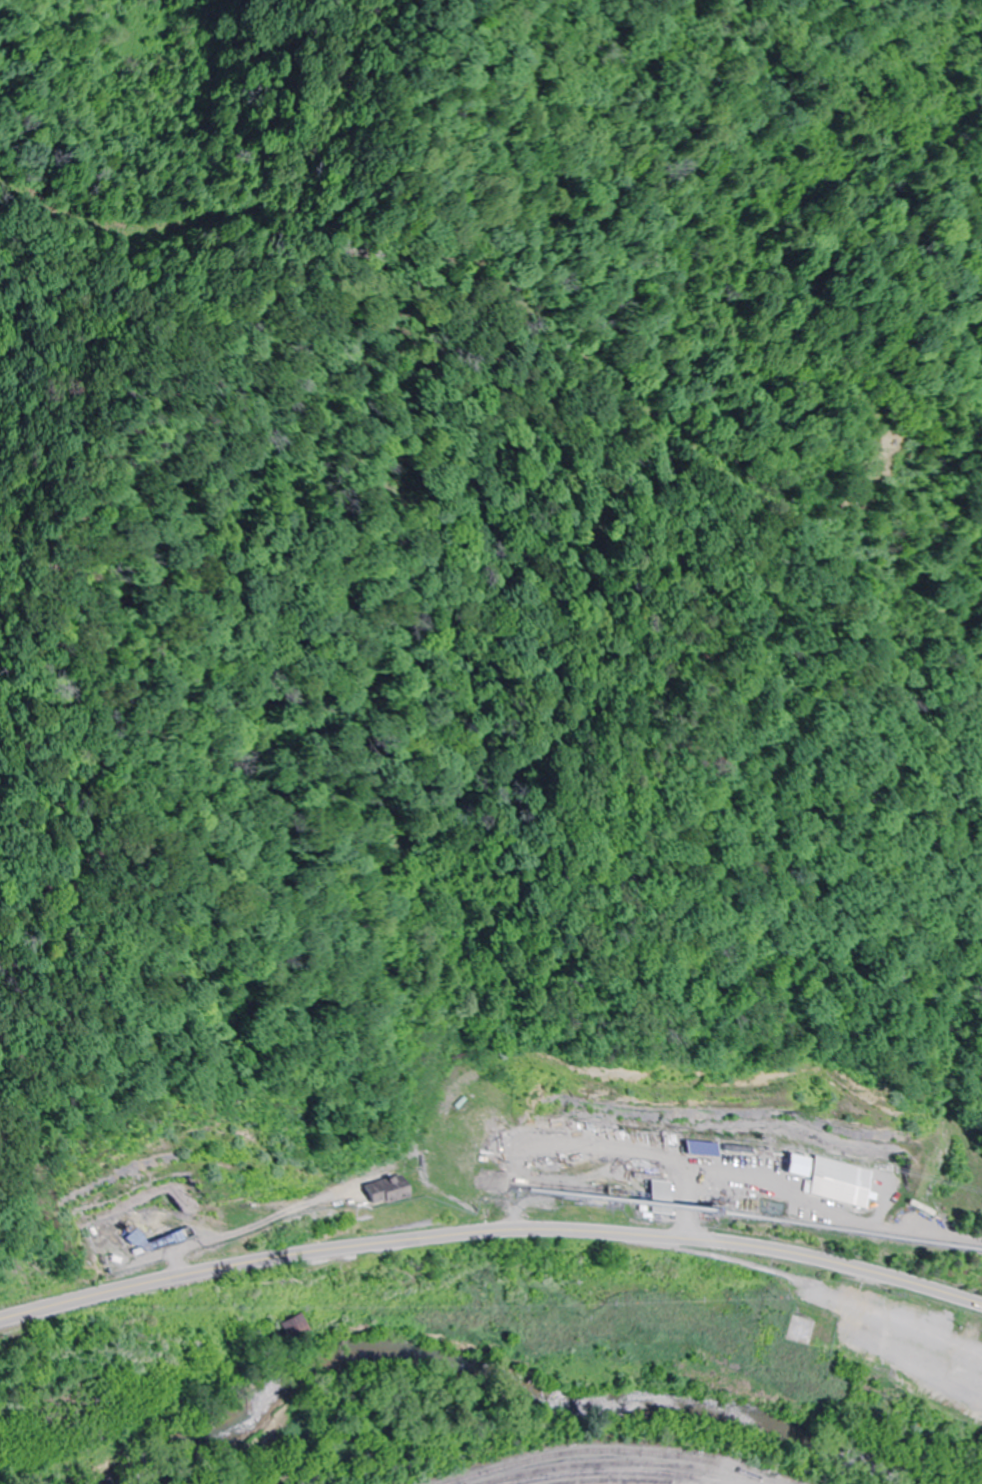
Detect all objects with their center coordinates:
building: (380, 1192)
road: (490, 1228)
building: (780, 1292)
building: (804, 1298)
building: (856, 1318)
river: (507, 1378)
railway: (610, 1450)
railway: (628, 1464)
railway: (624, 1473)
railway: (623, 1482)

